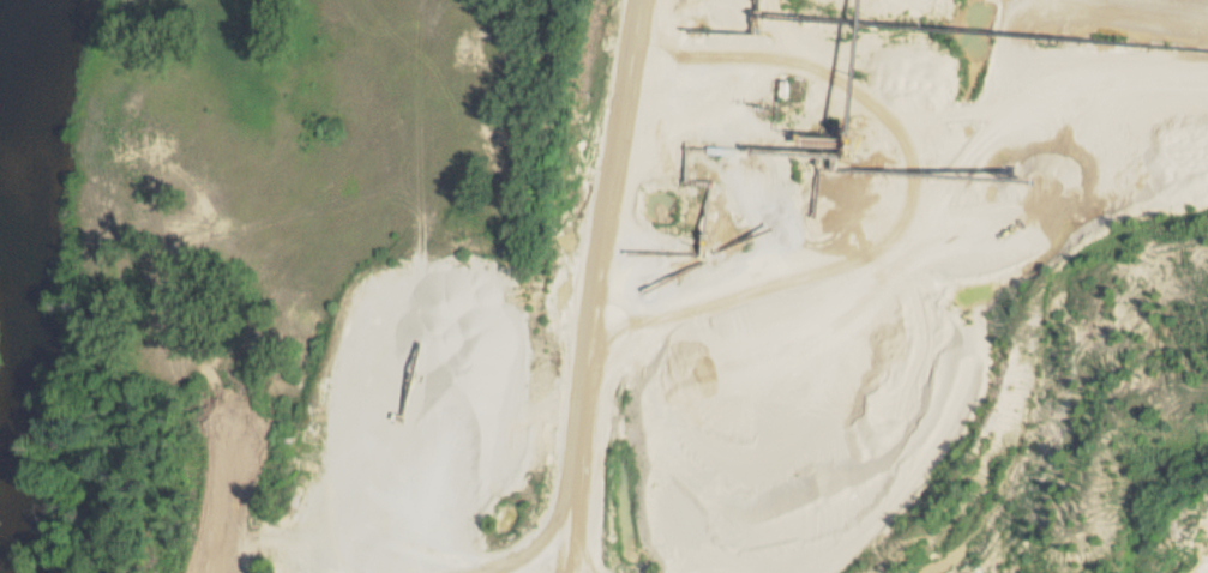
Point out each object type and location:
quarry: (807, 314)
river: (8, 345)

